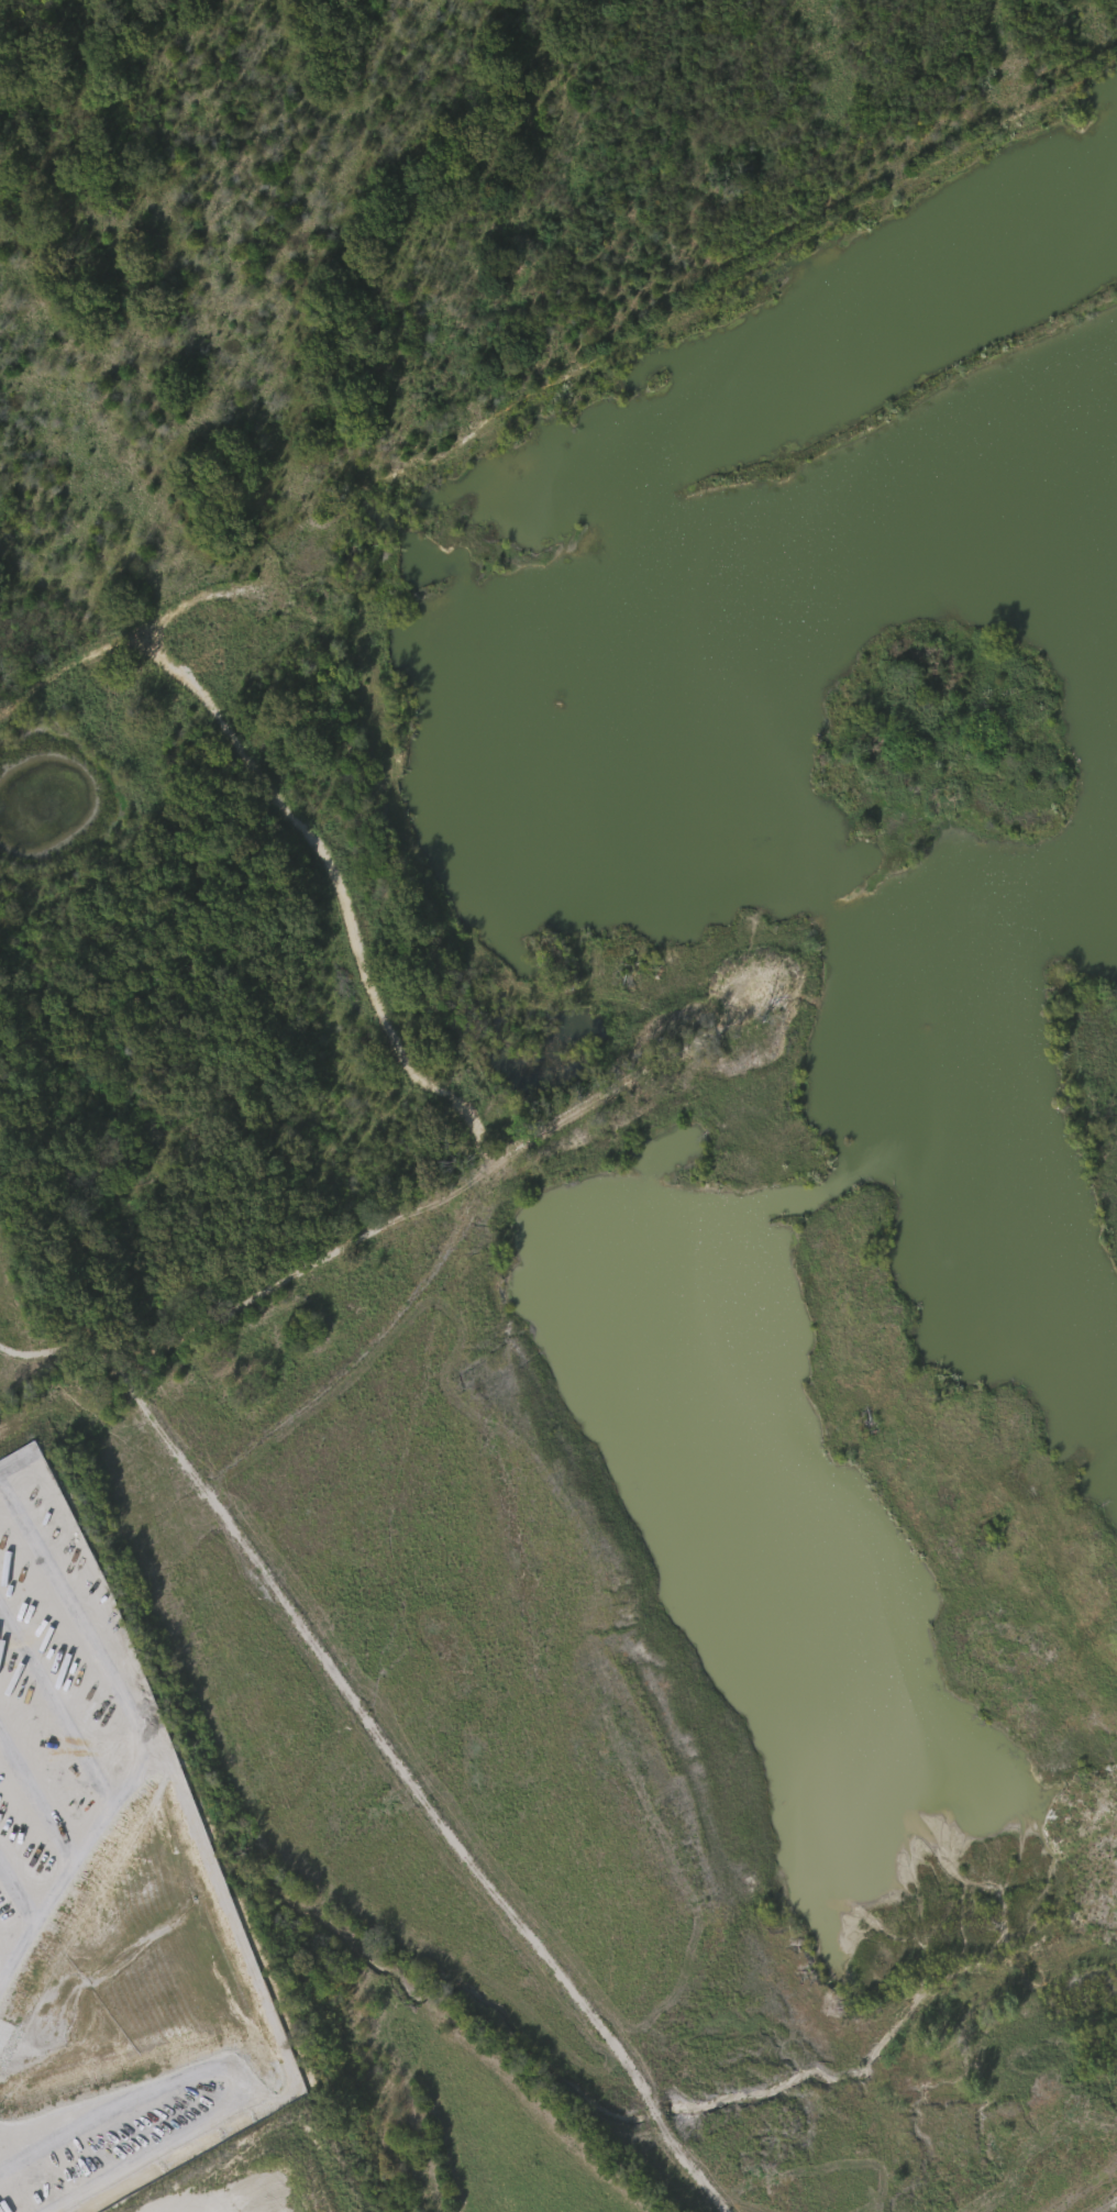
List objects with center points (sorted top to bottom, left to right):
road: (557, 1129)
road: (139, 1735)

